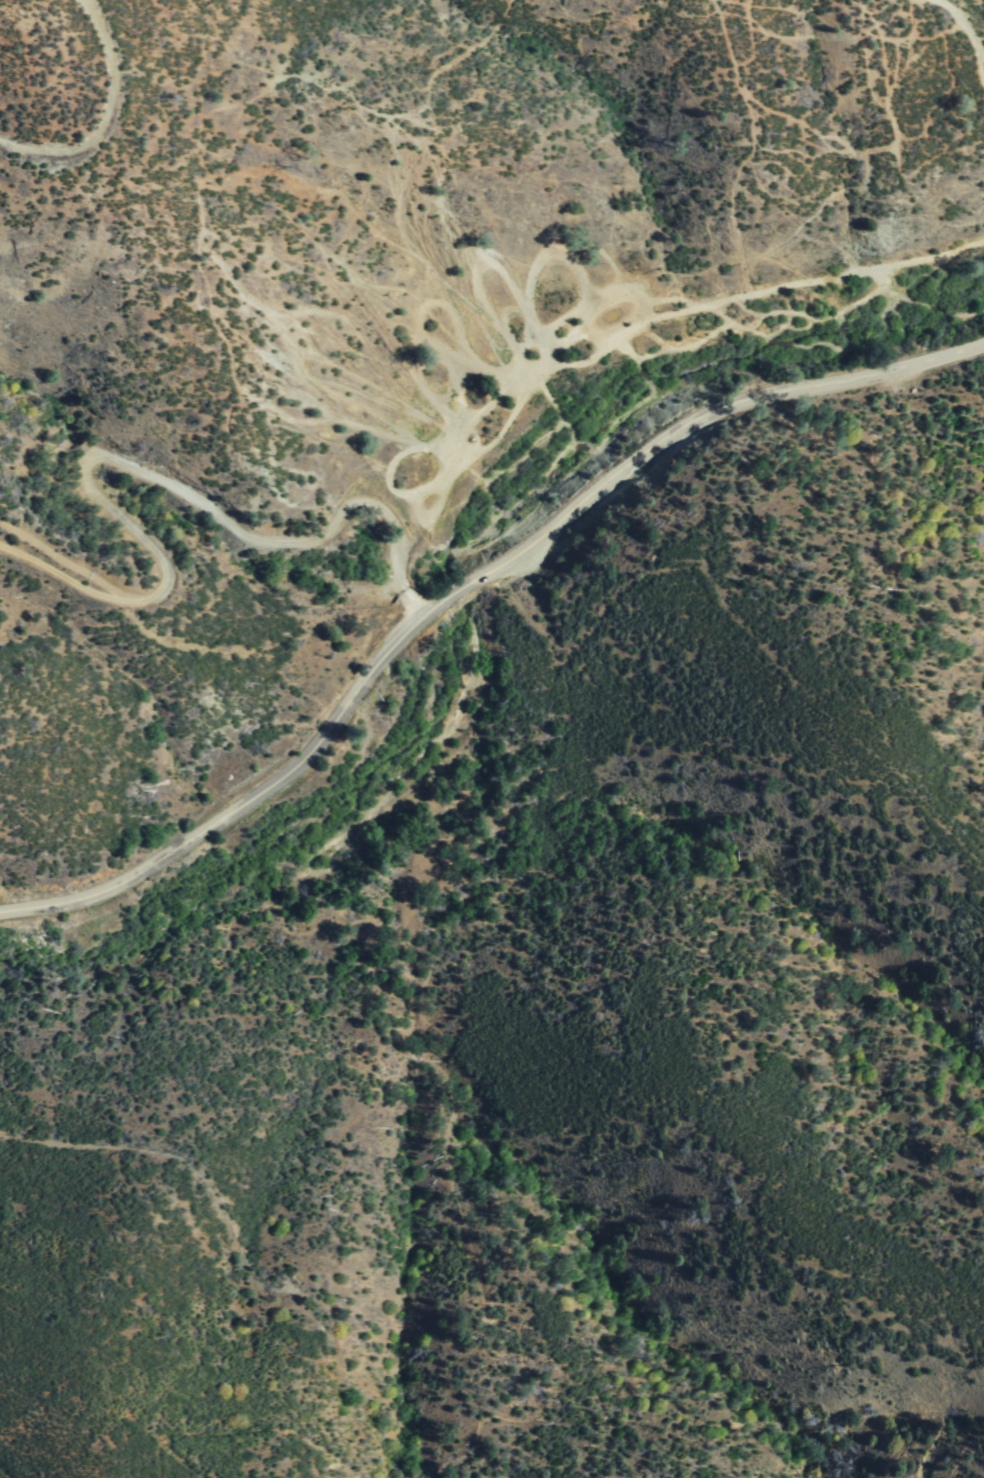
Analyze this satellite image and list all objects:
road: (974, 9)
road: (90, 106)
road: (669, 279)
road: (308, 302)
road: (156, 477)
road: (466, 583)

